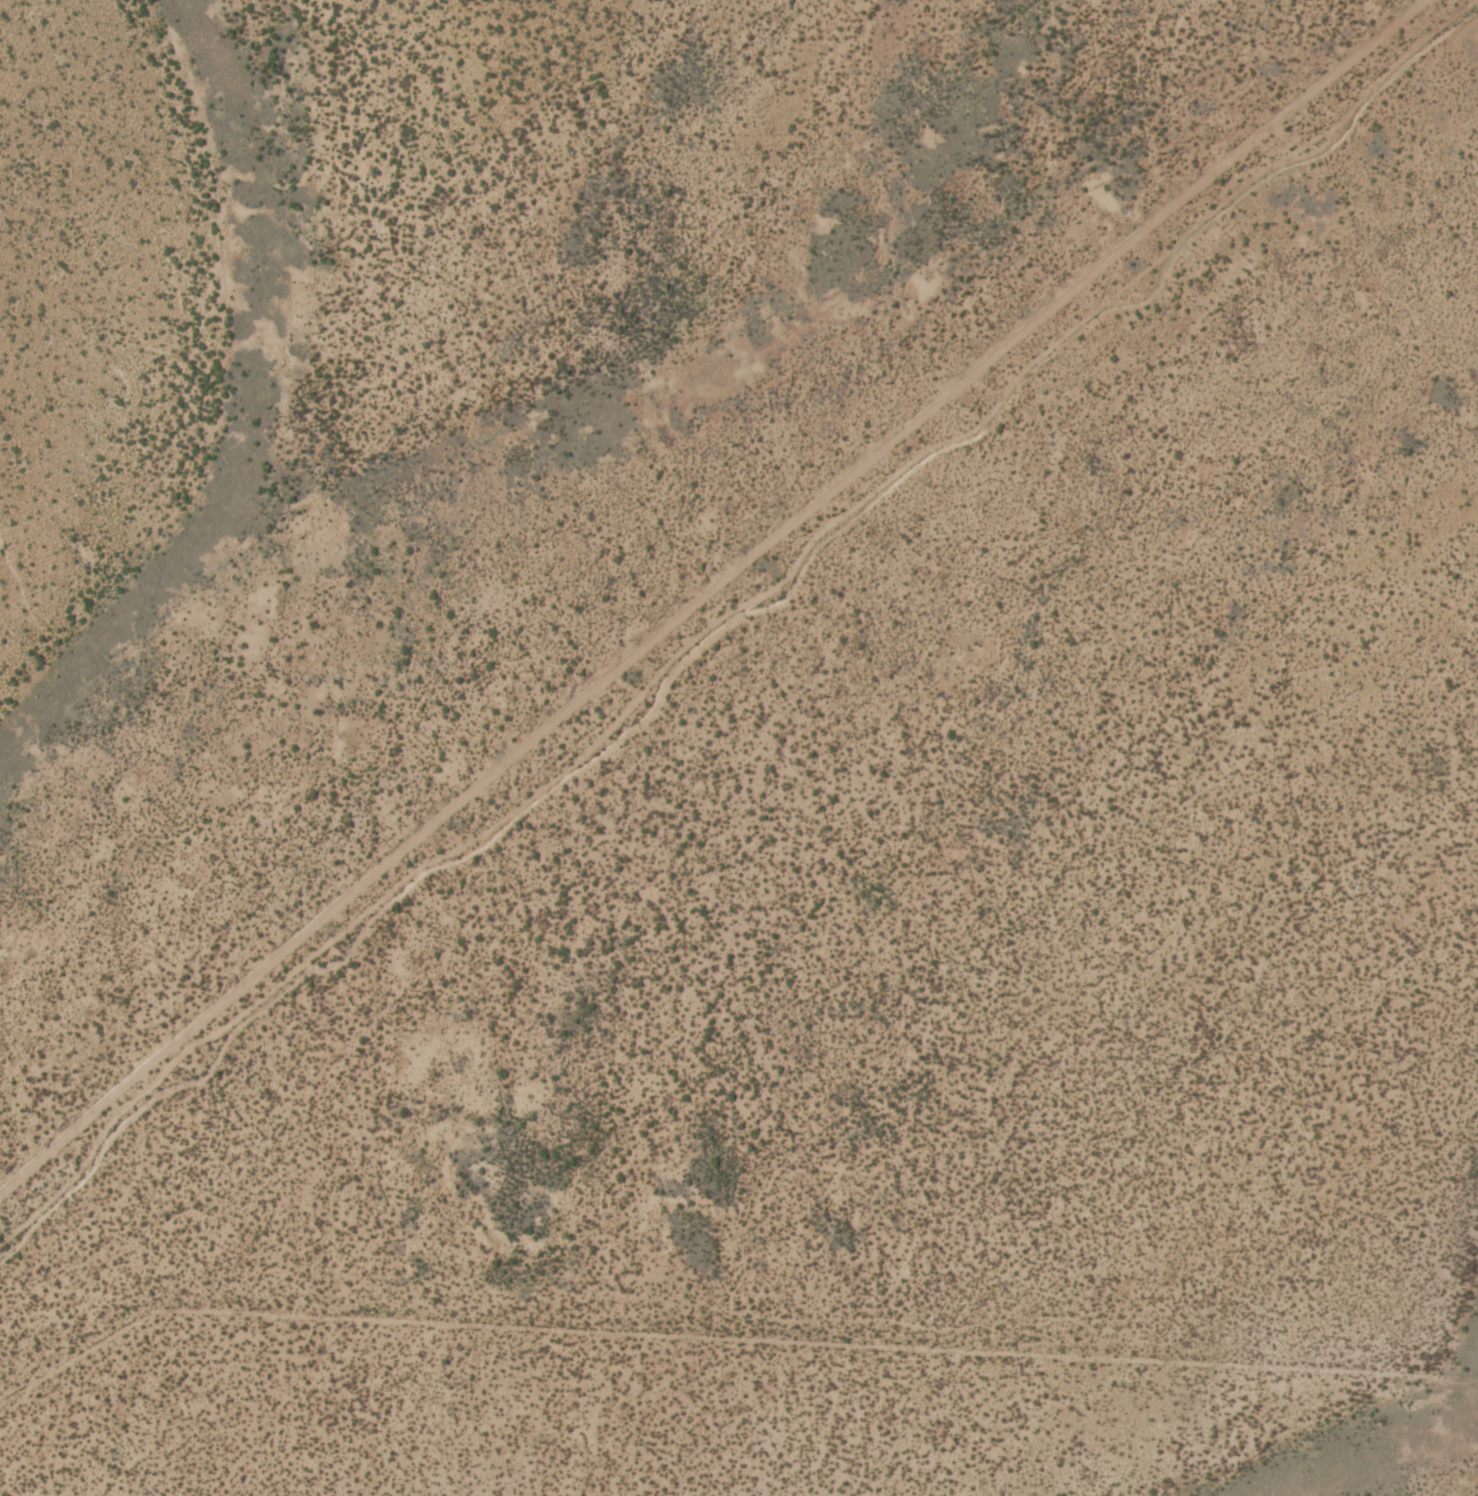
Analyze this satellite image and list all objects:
road: (736, 608)

